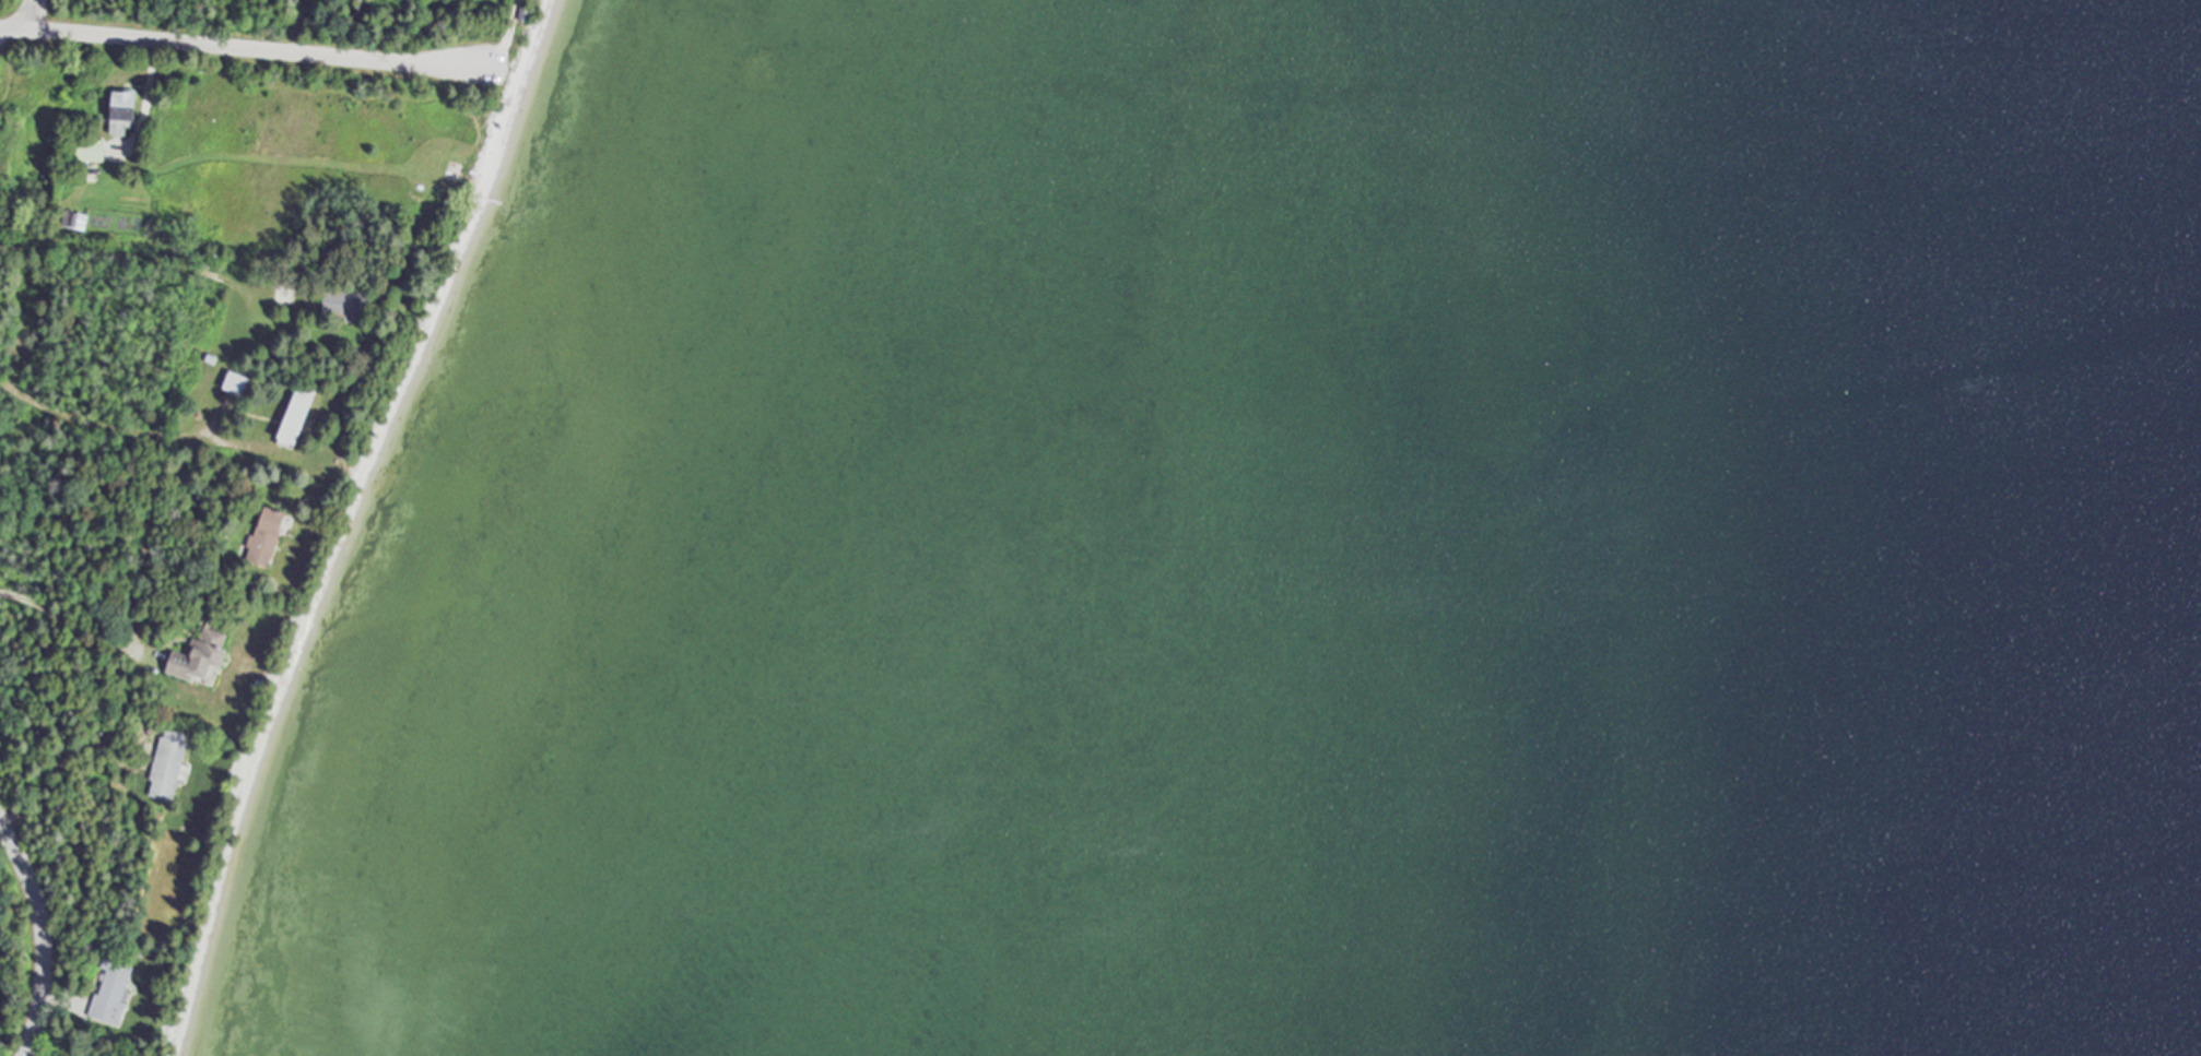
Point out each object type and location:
road: (25, 13)
road: (298, 26)
road: (508, 36)
road: (243, 47)
road: (154, 79)
building: (125, 111)
building: (92, 149)
building: (74, 219)
building: (286, 294)
building: (356, 302)
building: (238, 382)
building: (298, 415)
road: (115, 425)
building: (267, 536)
road: (70, 615)
building: (201, 654)
building: (168, 764)
road: (45, 939)
building: (114, 990)

